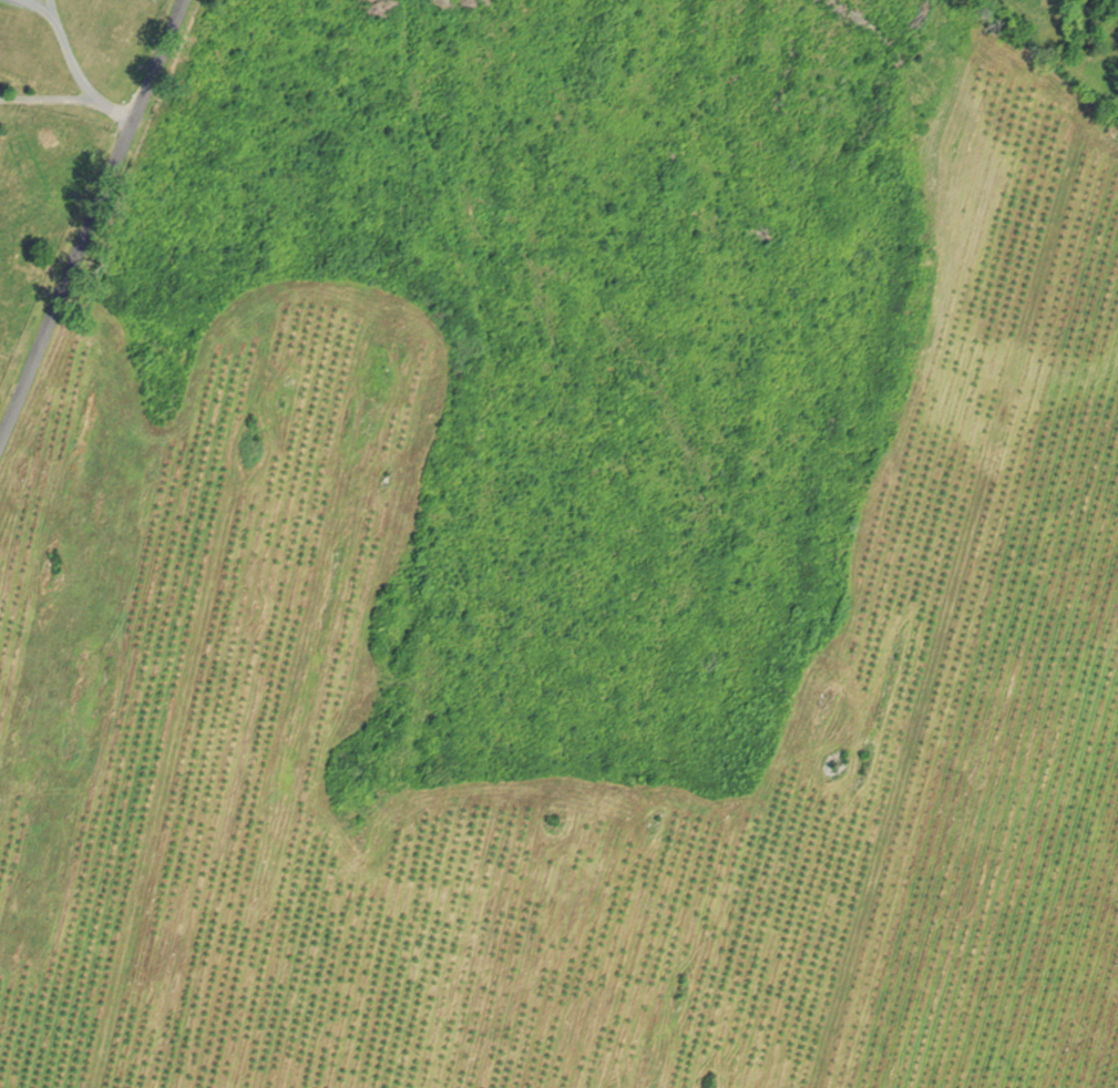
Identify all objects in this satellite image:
road: (30, 0)
road: (79, 69)
road: (47, 96)
road: (95, 223)
road: (789, 1066)

